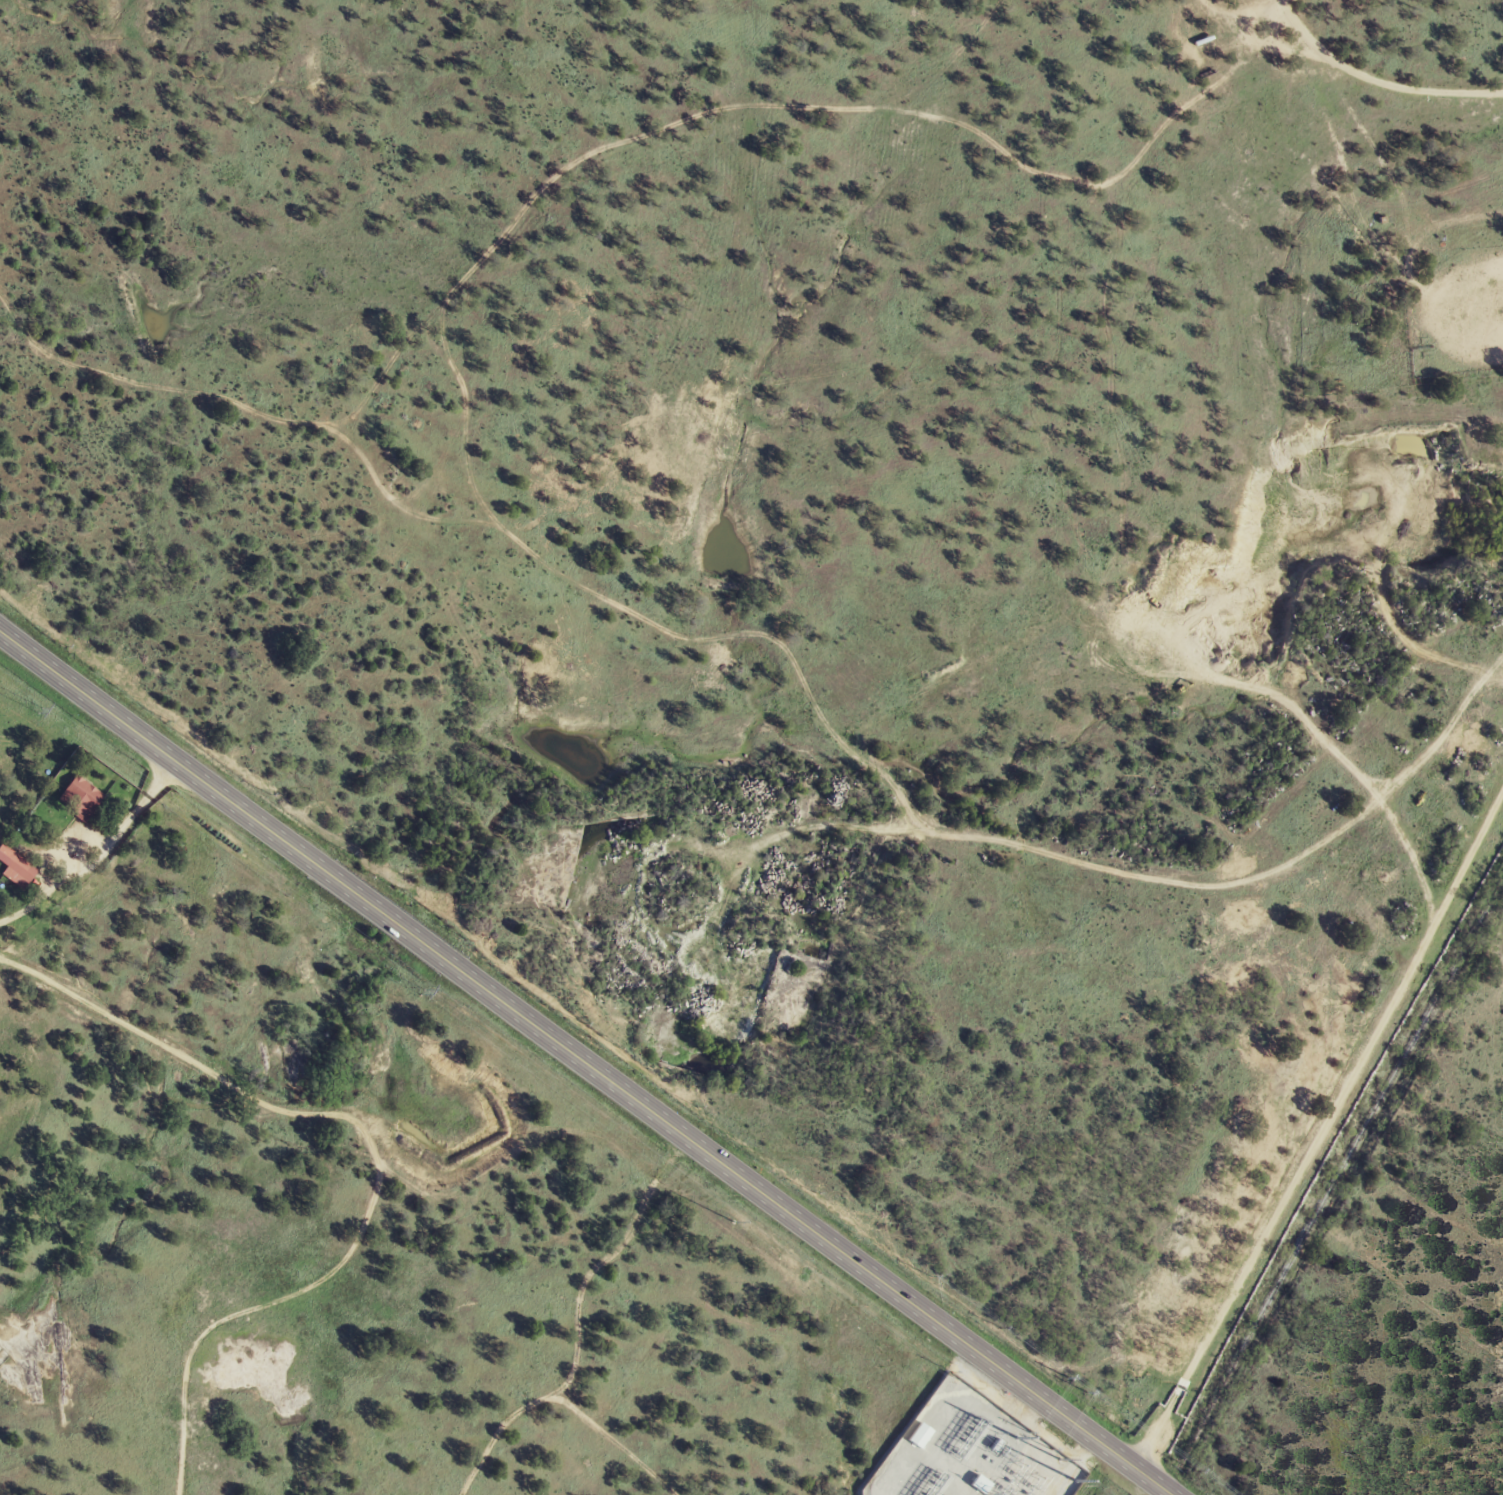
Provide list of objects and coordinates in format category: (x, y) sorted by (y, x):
road: (1345, 68)
power tower: (41, 710)
building: (82, 798)
road: (97, 855)
building: (18, 867)
road: (1267, 877)
power tower: (423, 992)
road: (111, 1010)
road: (341, 1029)
road: (585, 1064)
road: (1326, 1135)
railway: (1334, 1189)
power tower: (807, 1274)
road: (250, 1299)
power substation: (970, 1452)

